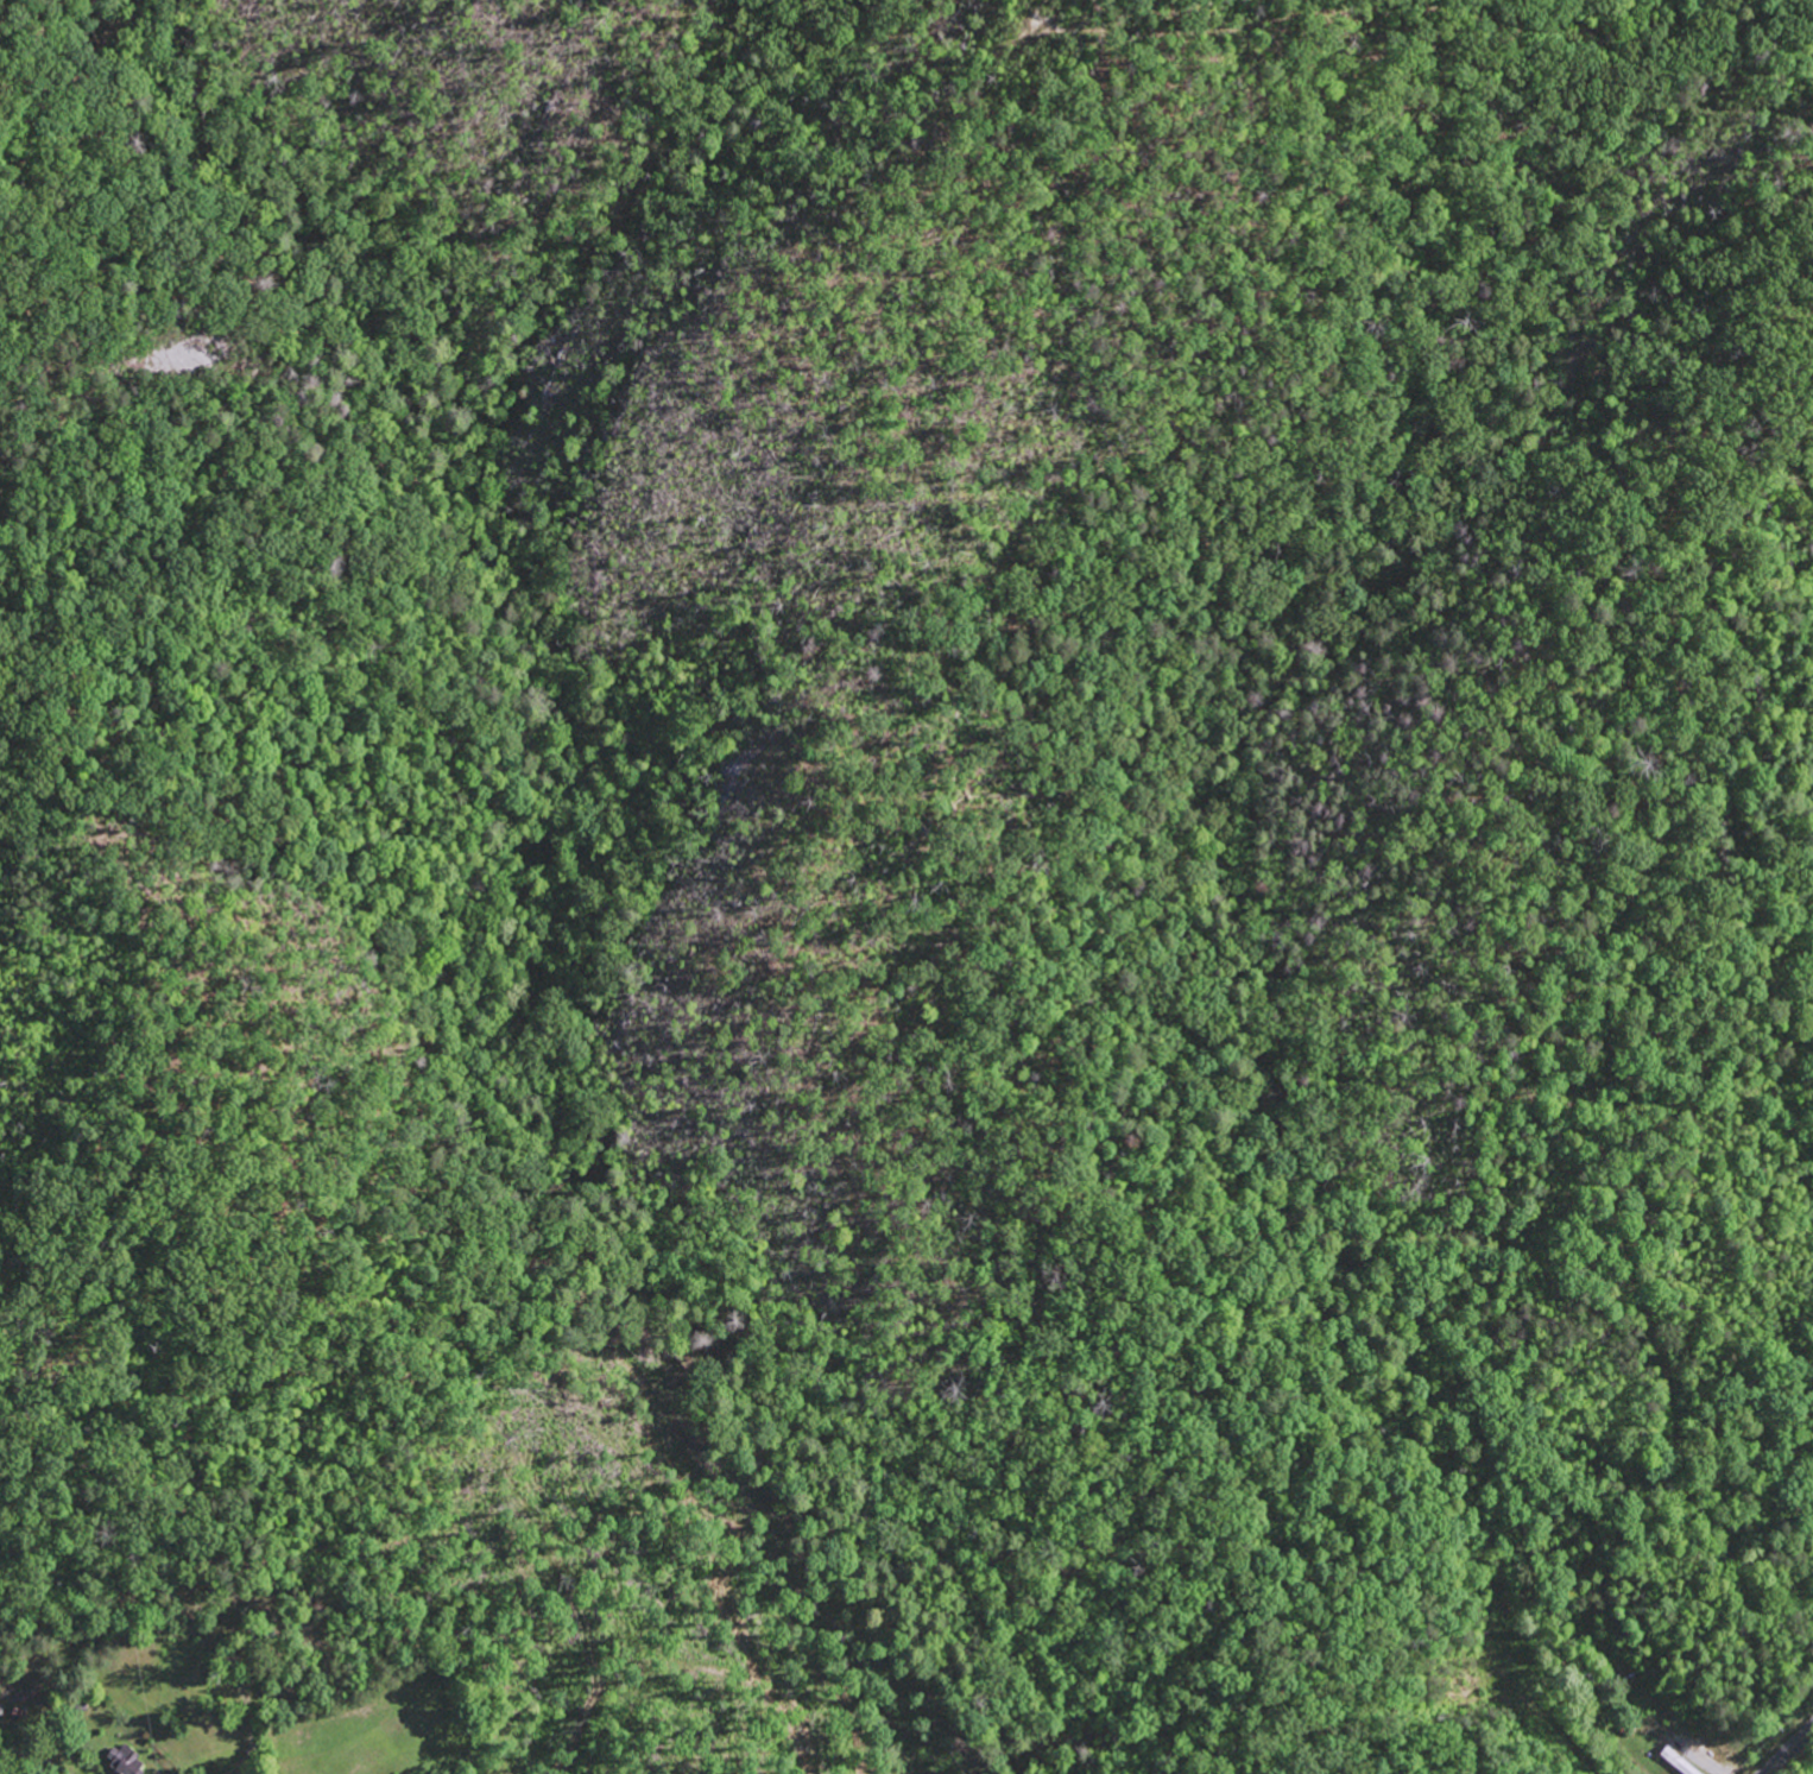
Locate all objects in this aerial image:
road: (1590, 1736)
road: (1790, 1751)
building: (126, 1762)
building: (1679, 1762)

